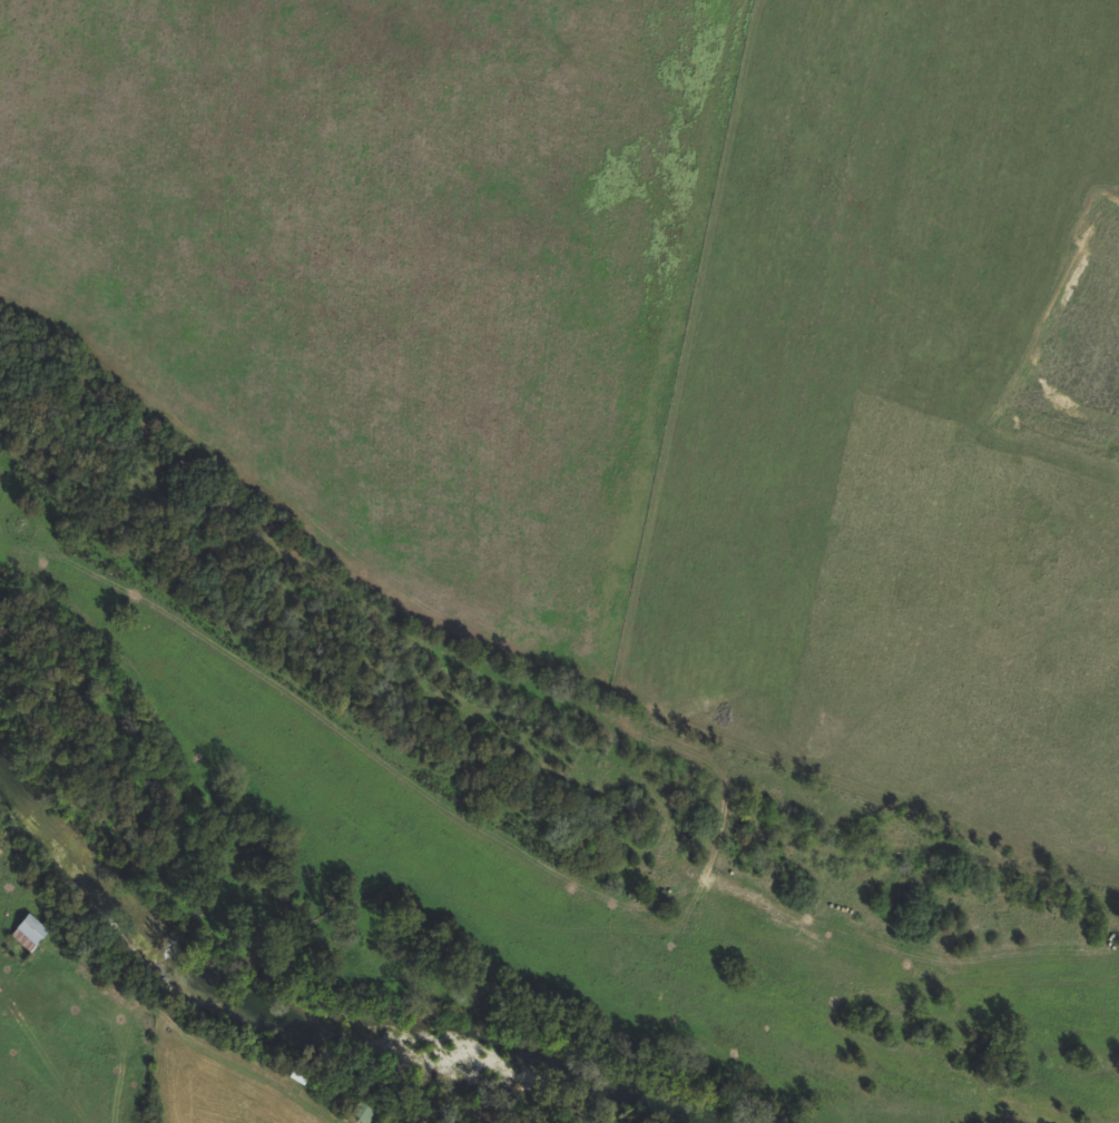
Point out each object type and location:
building: (32, 929)
building: (363, 1110)

